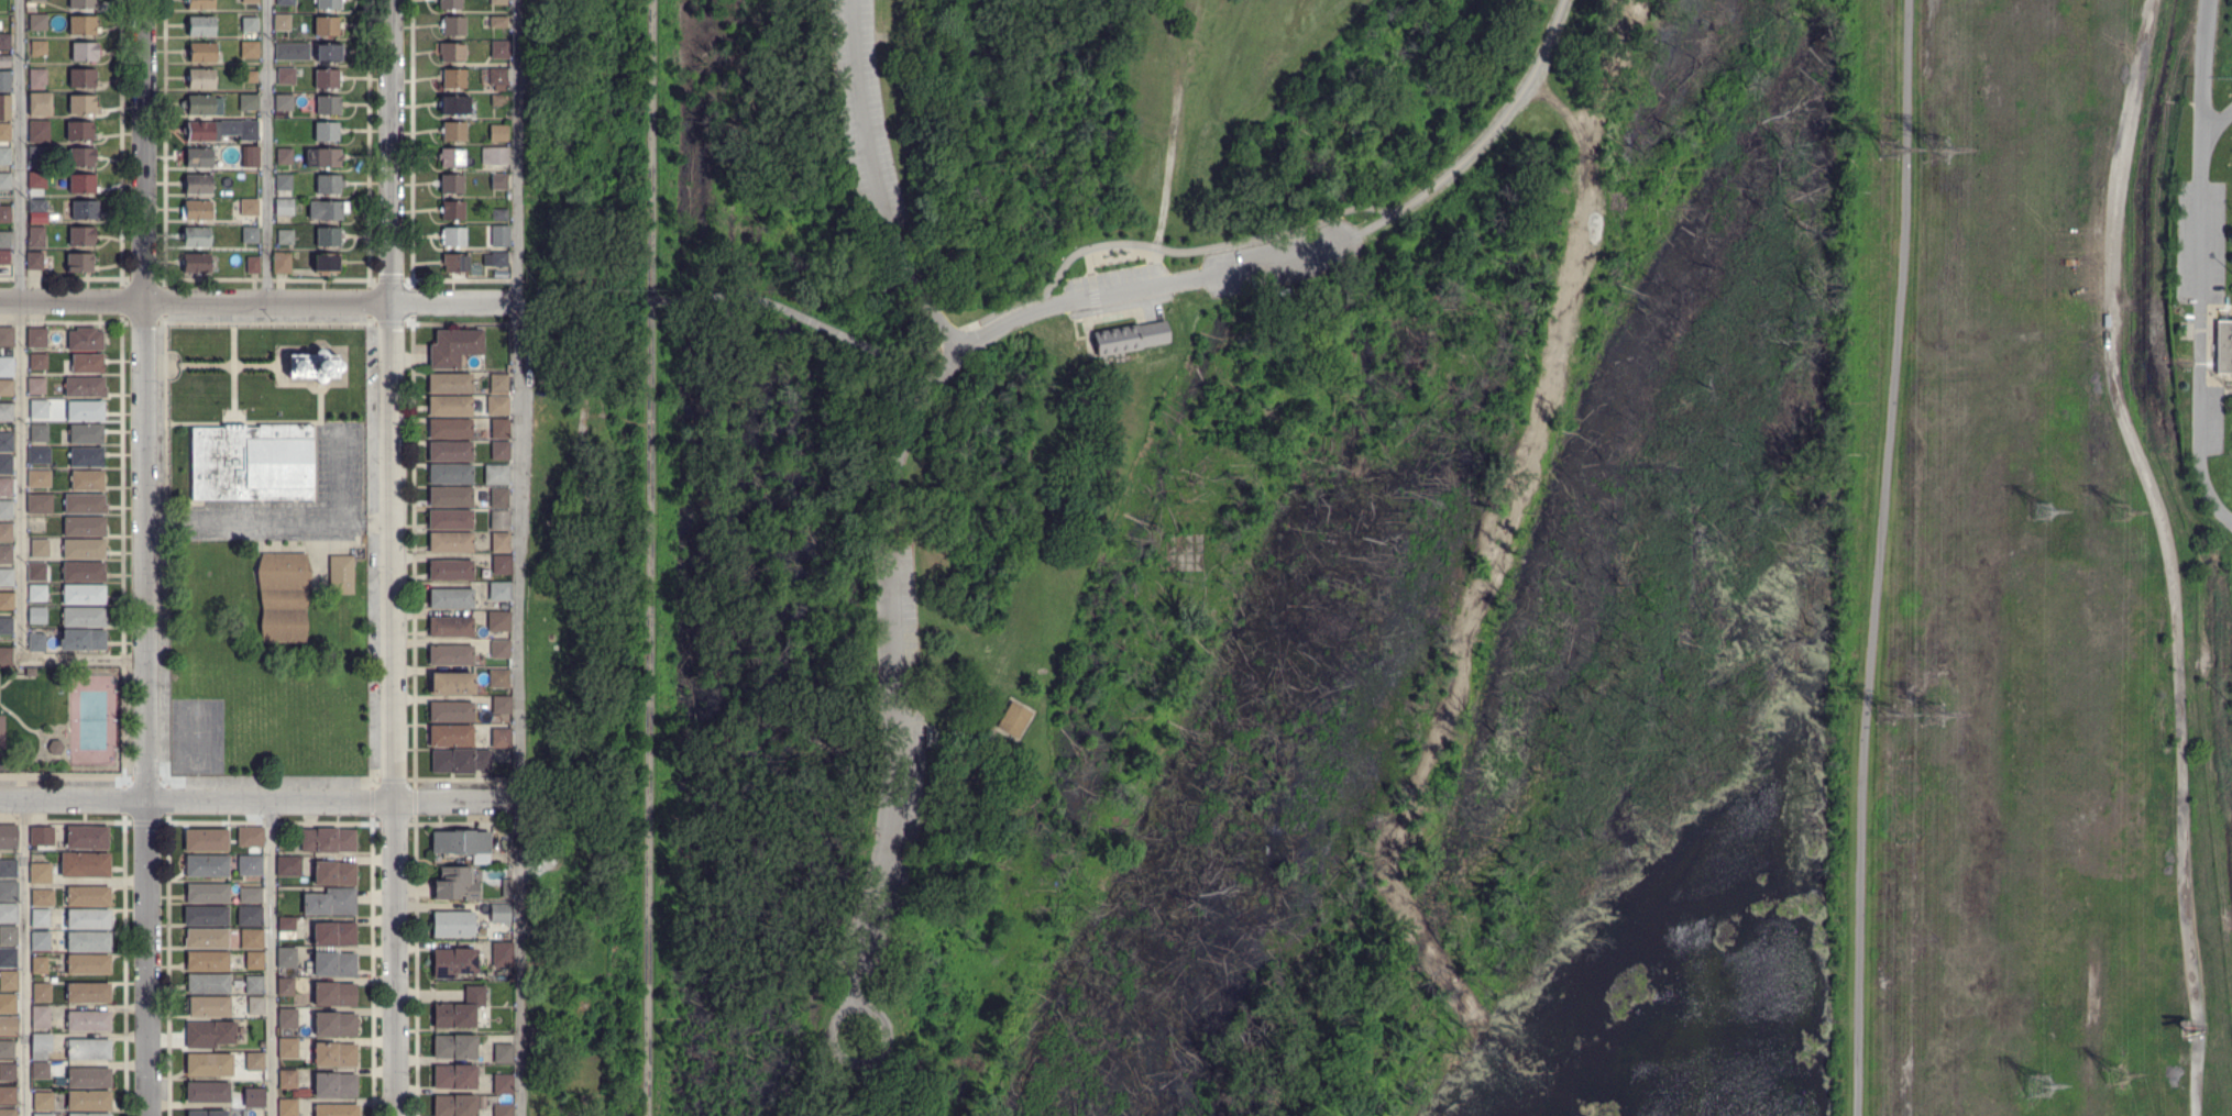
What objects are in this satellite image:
building: (36, 0)
building: (249, 1)
building: (284, 2)
building: (497, 2)
building: (448, 3)
building: (81, 4)
building: (199, 4)
building: (327, 4)
building: (37, 22)
building: (498, 22)
building: (249, 24)
building: (81, 25)
building: (200, 25)
building: (452, 25)
building: (325, 26)
building: (39, 47)
building: (248, 51)
building: (290, 51)
building: (84, 52)
building: (450, 52)
building: (202, 53)
building: (327, 53)
building: (4, 62)
building: (285, 76)
building: (248, 77)
building: (497, 77)
building: (37, 78)
building: (81, 78)
building: (200, 78)
building: (325, 78)
building: (452, 78)
building: (4, 81)
road: (2204, 89)
building: (497, 100)
building: (248, 102)
building: (283, 102)
building: (40, 104)
building: (83, 104)
building: (327, 104)
building: (454, 104)
building: (201, 106)
building: (4, 109)
parking lot: (864, 115)
road: (2215, 123)
building: (78, 130)
building: (246, 130)
building: (37, 131)
building: (200, 131)
building: (325, 131)
building: (452, 131)
building: (4, 132)
building: (497, 133)
road: (652, 147)
power tower: (1938, 147)
power tower: (1887, 148)
road: (267, 152)
building: (4, 155)
building: (36, 155)
building: (80, 156)
building: (494, 156)
building: (283, 157)
building: (450, 157)
building: (198, 158)
building: (330, 158)
building: (37, 180)
building: (4, 181)
building: (283, 181)
building: (498, 181)
building: (81, 184)
building: (196, 184)
building: (328, 184)
building: (450, 184)
road: (877, 184)
building: (36, 206)
building: (283, 207)
building: (249, 208)
building: (84, 210)
building: (196, 210)
building: (325, 210)
building: (451, 210)
building: (498, 214)
road: (1307, 223)
building: (495, 233)
building: (249, 235)
building: (81, 236)
building: (195, 236)
building: (284, 236)
building: (327, 236)
building: (452, 236)
building: (36, 237)
building: (4, 240)
parking lot: (2199, 241)
building: (4, 257)
parking lot: (1280, 258)
building: (494, 259)
building: (33, 261)
building: (78, 262)
building: (281, 262)
building: (195, 263)
building: (325, 263)
building: (453, 263)
building: (252, 265)
parking lot: (1115, 279)
road: (1156, 283)
road: (259, 302)
road: (2199, 314)
road: (799, 317)
road: (21, 330)
road: (953, 335)
building: (6, 336)
building: (1129, 338)
building: (36, 339)
building: (84, 340)
building: (2224, 343)
building: (453, 347)
building: (39, 362)
building: (314, 362)
building: (87, 364)
building: (7, 366)
building: (448, 384)
building: (497, 385)
building: (36, 386)
building: (6, 388)
building: (84, 388)
building: (449, 406)
building: (497, 406)
building: (37, 409)
building: (85, 410)
building: (6, 413)
parking lot: (2212, 417)
building: (448, 428)
building: (498, 430)
building: (39, 433)
building: (86, 434)
building: (6, 442)
building: (448, 451)
building: (498, 451)
building: (39, 456)
building: (86, 457)
parking lot: (339, 462)
building: (251, 463)
building: (6, 465)
road: (341, 472)
building: (449, 473)
building: (495, 475)
building: (39, 479)
building: (86, 480)
building: (6, 487)
road: (2207, 489)
building: (449, 496)
building: (498, 498)
building: (39, 505)
building: (85, 505)
building: (6, 510)
power tower: (2044, 510)
power tower: (2118, 512)
building: (448, 519)
building: (498, 520)
building: (36, 521)
road: (270, 522)
building: (84, 527)
building: (6, 533)
building: (449, 542)
building: (499, 542)
building: (39, 549)
building: (84, 550)
road: (2173, 551)
building: (6, 555)
road: (143, 557)
road: (397, 557)
road: (520, 557)
road: (1876, 557)
building: (501, 565)
building: (449, 570)
building: (83, 572)
building: (36, 573)
building: (340, 574)
building: (7, 578)
building: (498, 592)
building: (36, 594)
building: (84, 596)
building: (282, 596)
building: (449, 598)
building: (6, 601)
parking lot: (895, 601)
building: (36, 616)
building: (83, 618)
building: (497, 622)
building: (6, 627)
building: (449, 627)
building: (81, 640)
building: (35, 643)
building: (499, 650)
building: (449, 655)
building: (6, 656)
road: (83, 660)
road: (899, 670)
building: (30, 672)
building: (54, 675)
building: (497, 678)
building: (449, 683)
building: (501, 706)
road: (652, 706)
building: (449, 711)
power tower: (1933, 714)
power tower: (1887, 715)
park: (91, 719)
building: (1013, 719)
building: (449, 736)
building: (499, 738)
building: (458, 760)
road: (260, 799)
building: (8, 836)
building: (249, 836)
building: (41, 837)
building: (86, 837)
building: (327, 840)
building: (205, 841)
parking lot: (891, 841)
building: (459, 842)
building: (84, 865)
building: (248, 865)
building: (206, 866)
building: (287, 866)
building: (8, 869)
building: (333, 873)
building: (40, 874)
building: (492, 876)
building: (453, 884)
building: (506, 888)
building: (8, 891)
building: (206, 894)
building: (248, 895)
building: (87, 897)
building: (42, 898)
building: (329, 902)
building: (8, 913)
building: (498, 913)
building: (248, 915)
building: (205, 917)
building: (39, 919)
building: (87, 920)
building: (289, 924)
building: (451, 924)
building: (332, 933)
building: (8, 936)
building: (250, 938)
building: (205, 939)
building: (39, 941)
building: (87, 942)
building: (502, 953)
road: (22, 957)
building: (284, 957)
building: (8, 958)
road: (271, 958)
building: (253, 960)
building: (206, 962)
building: (452, 962)
building: (88, 964)
building: (332, 964)
building: (40, 965)
building: (8, 980)
building: (52, 980)
building: (207, 984)
building: (252, 984)
building: (284, 986)
building: (40, 992)
building: (87, 993)
building: (333, 994)
building: (259, 998)
building: (7, 1006)
building: (208, 1007)
building: (458, 1009)
building: (40, 1018)
building: (286, 1018)
building: (87, 1021)
building: (333, 1024)
building: (8, 1026)
building: (208, 1034)
building: (261, 1043)
building: (41, 1046)
building: (286, 1047)
building: (453, 1047)
building: (87, 1049)
building: (7, 1050)
building: (502, 1053)
building: (333, 1054)
road: (861, 1060)
building: (253, 1061)
building: (208, 1064)
road: (913, 1069)
building: (39, 1070)
building: (7, 1072)
building: (452, 1073)
power tower: (2120, 1075)
building: (88, 1079)
building: (286, 1079)
building: (333, 1084)
building: (502, 1085)
power tower: (2037, 1086)
building: (207, 1093)
building: (8, 1095)
building: (252, 1097)
building: (88, 1101)
building: (42, 1102)
building: (453, 1105)
building: (286, 1107)
building: (334, 1109)
building: (503, 1109)
building: (8, 1113)
building: (206, 1113)
building: (42, 1114)
building: (88, 1114)

